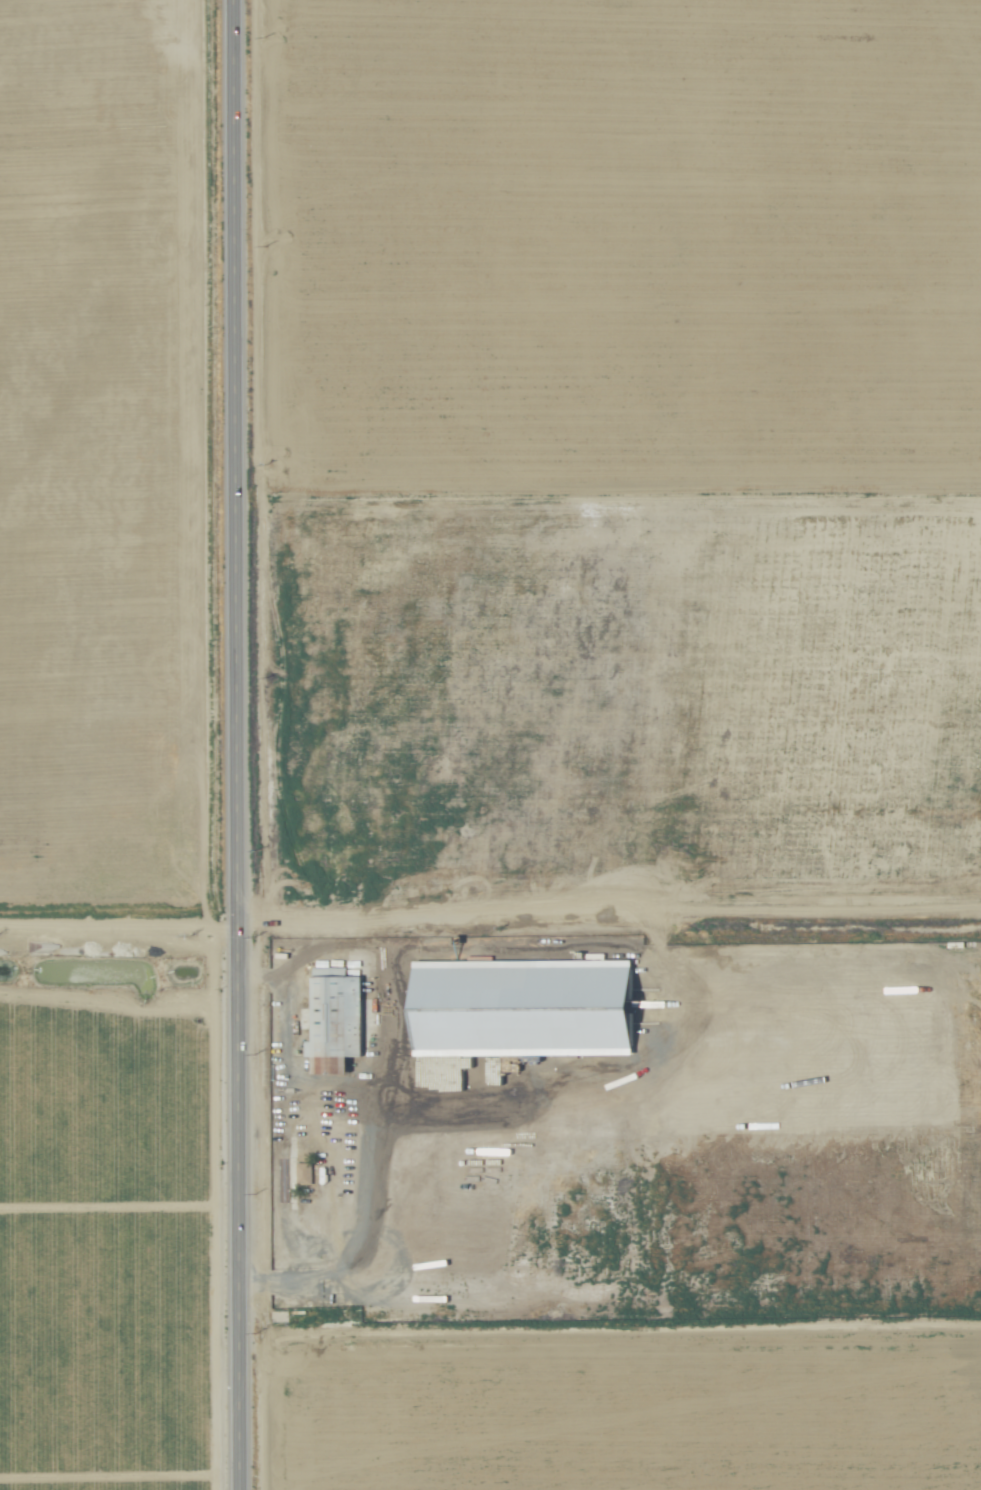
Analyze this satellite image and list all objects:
road: (241, 744)
road: (121, 932)
building: (527, 1008)
building: (336, 1021)
road: (370, 1116)
building: (302, 1174)

